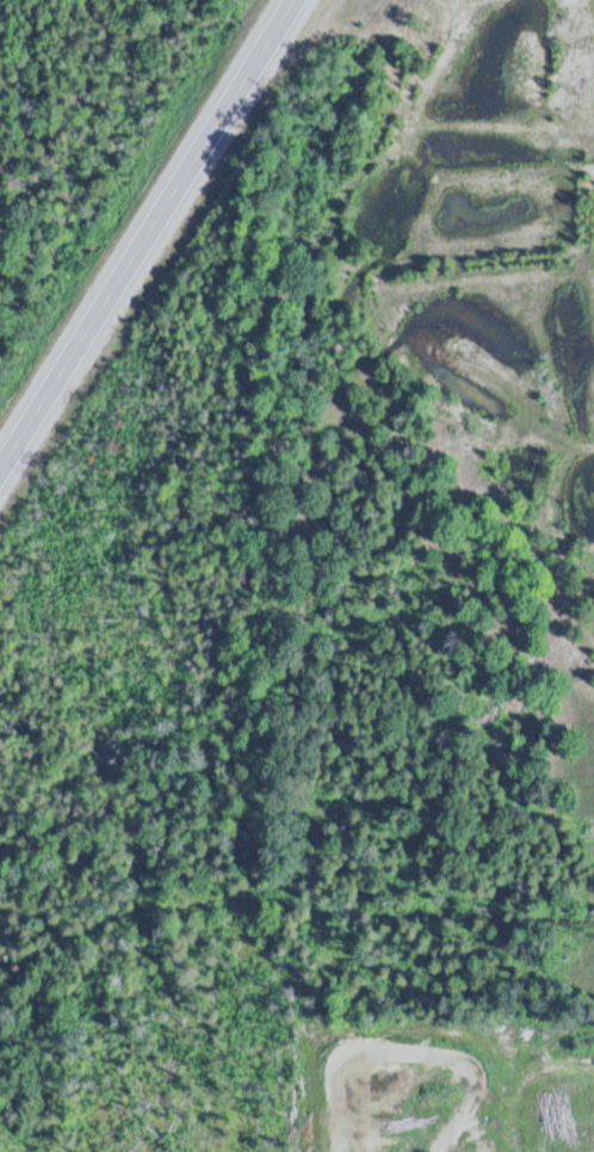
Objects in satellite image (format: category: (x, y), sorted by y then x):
road: (150, 241)

